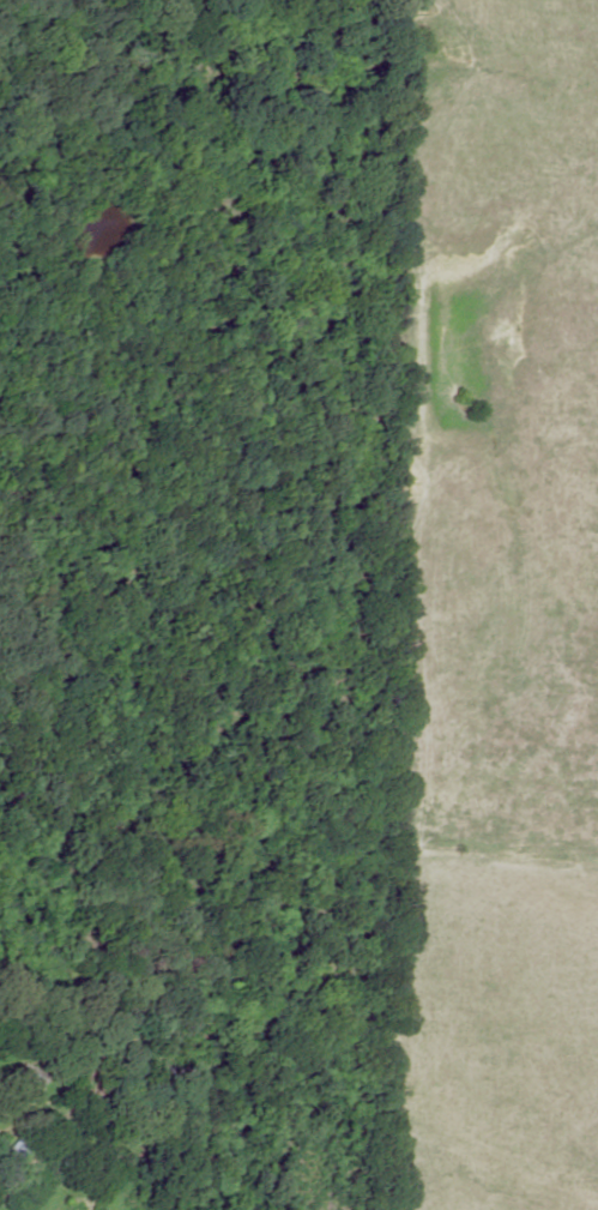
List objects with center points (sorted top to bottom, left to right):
building: (25, 1074)
building: (71, 1077)
building: (16, 1148)
road: (42, 1149)

